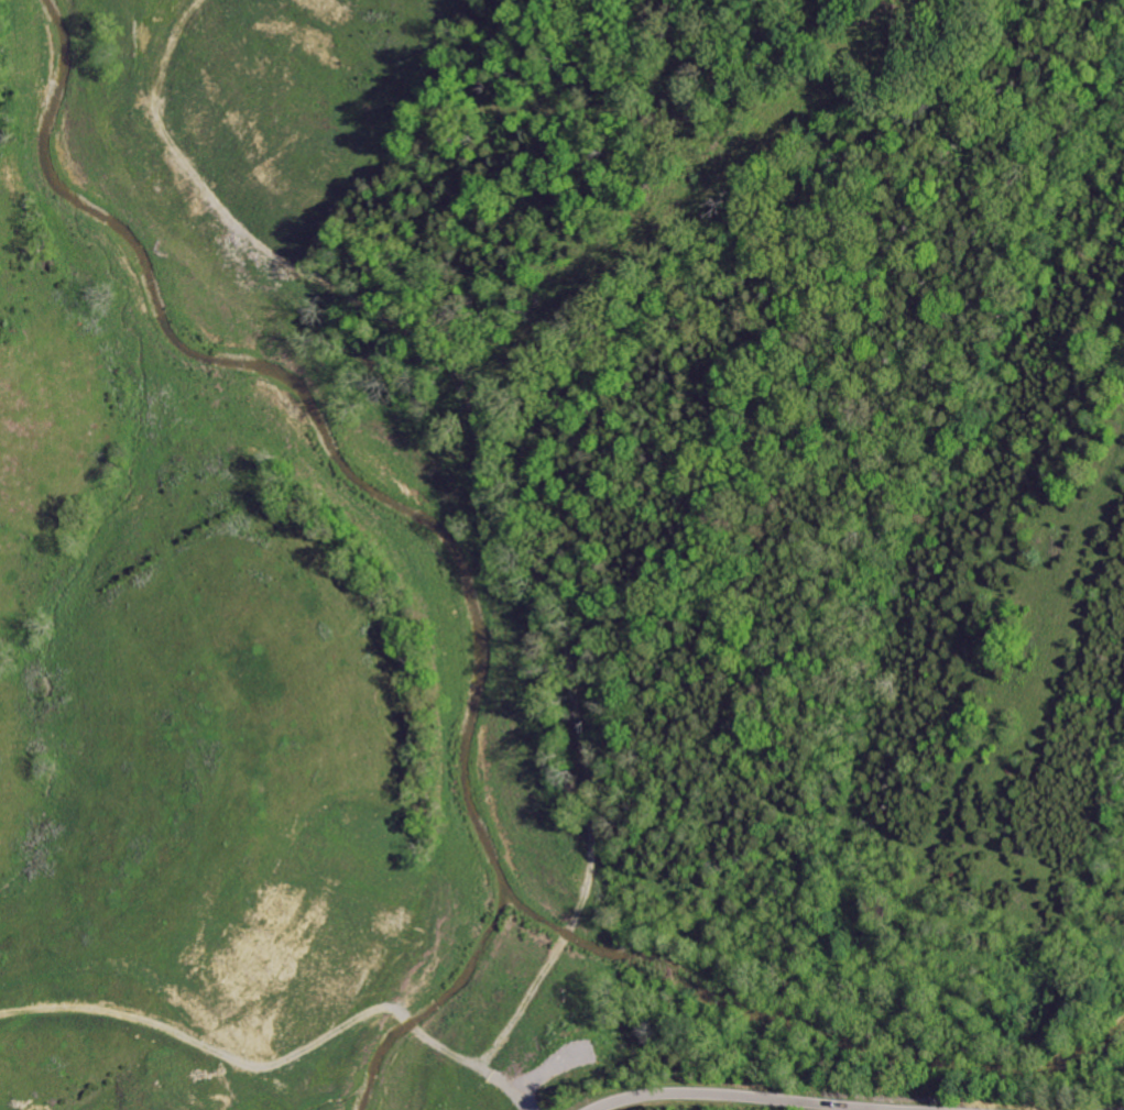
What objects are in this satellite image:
road: (981, 737)
road: (751, 1099)
road: (1107, 1108)

